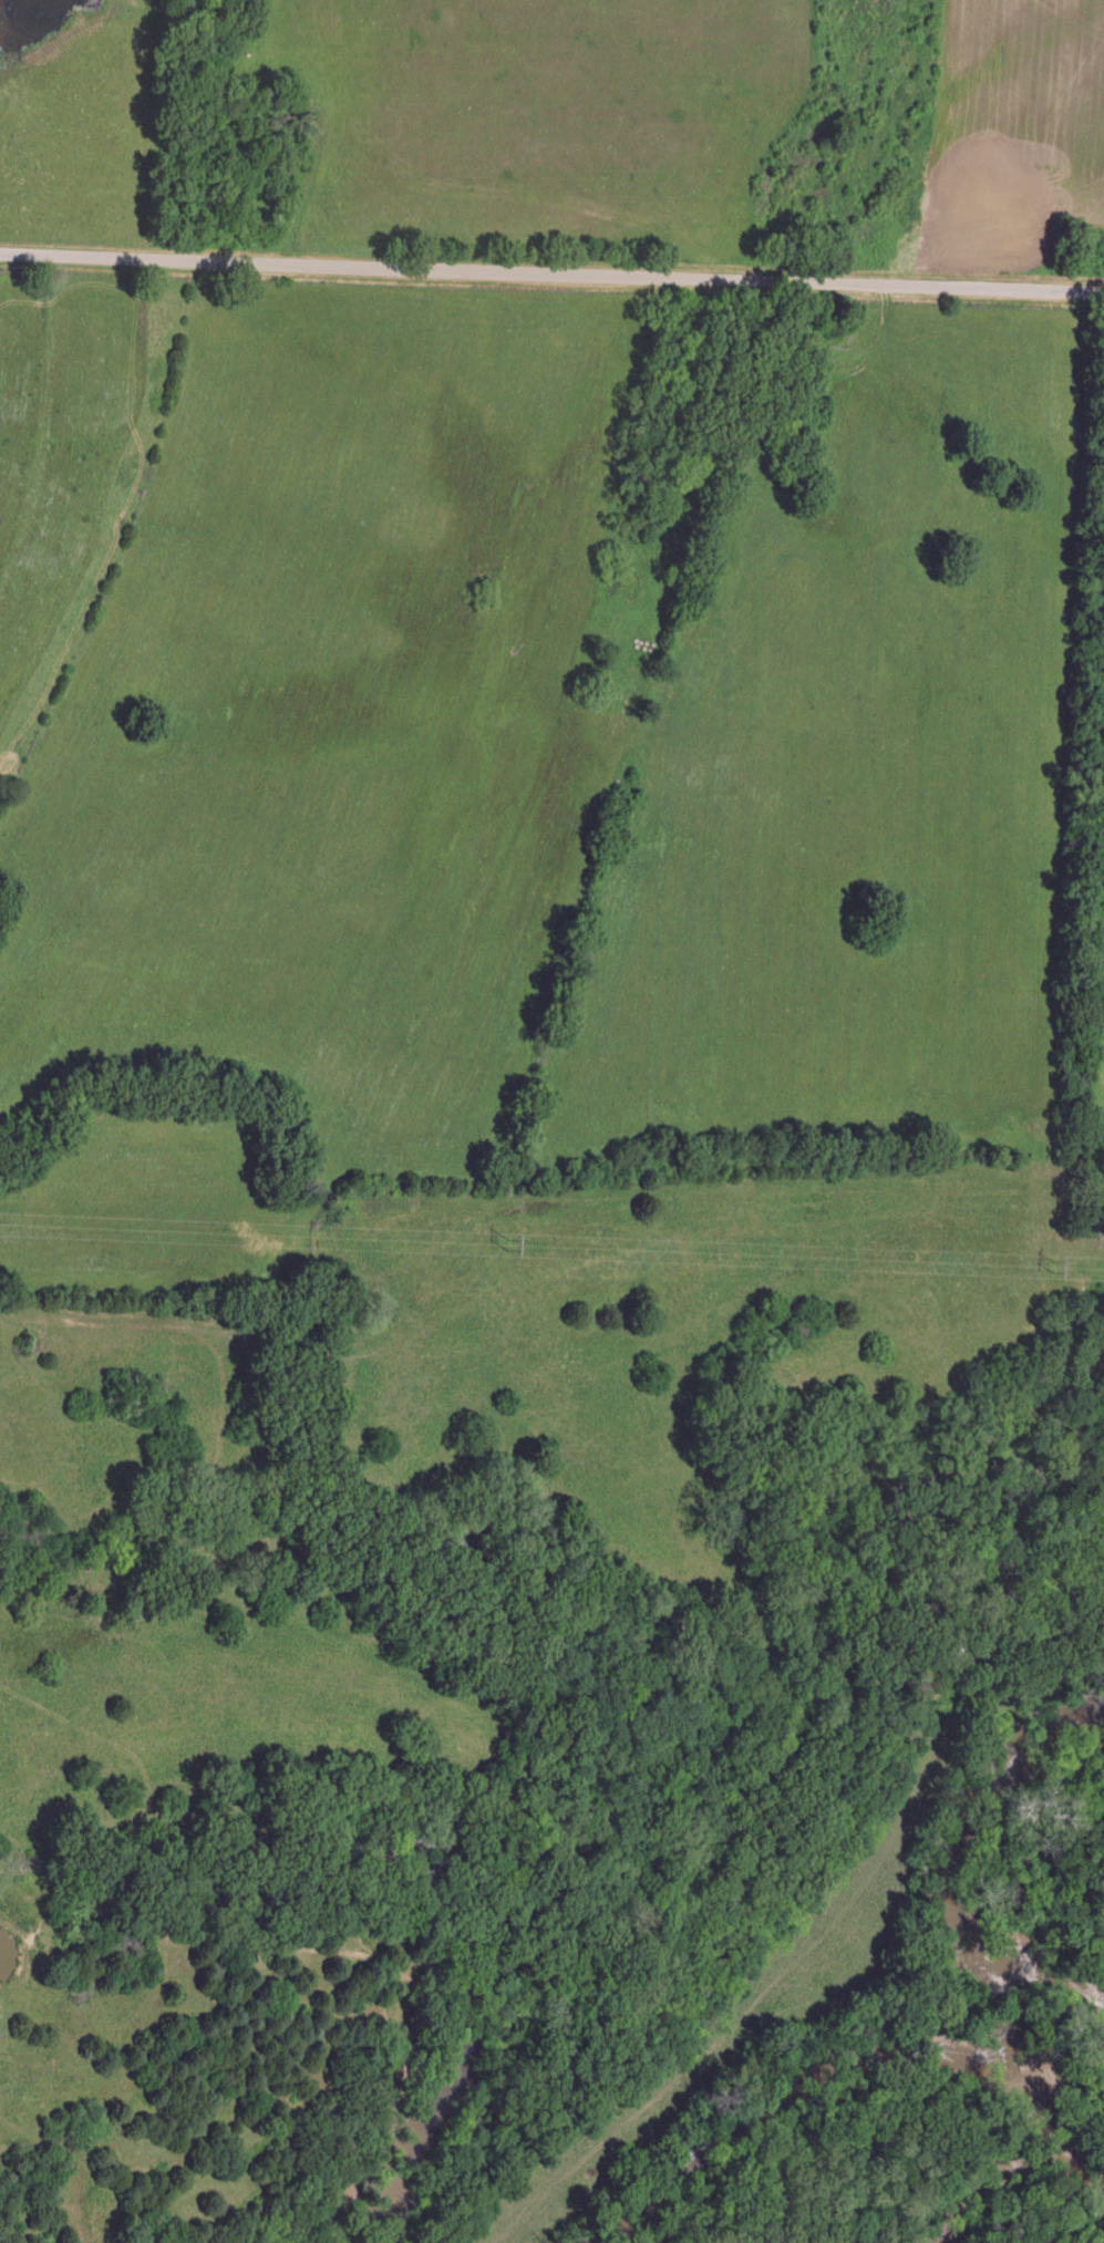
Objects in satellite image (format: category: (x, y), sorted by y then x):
road: (551, 276)
power tower: (514, 1241)
power tower: (1055, 1262)

